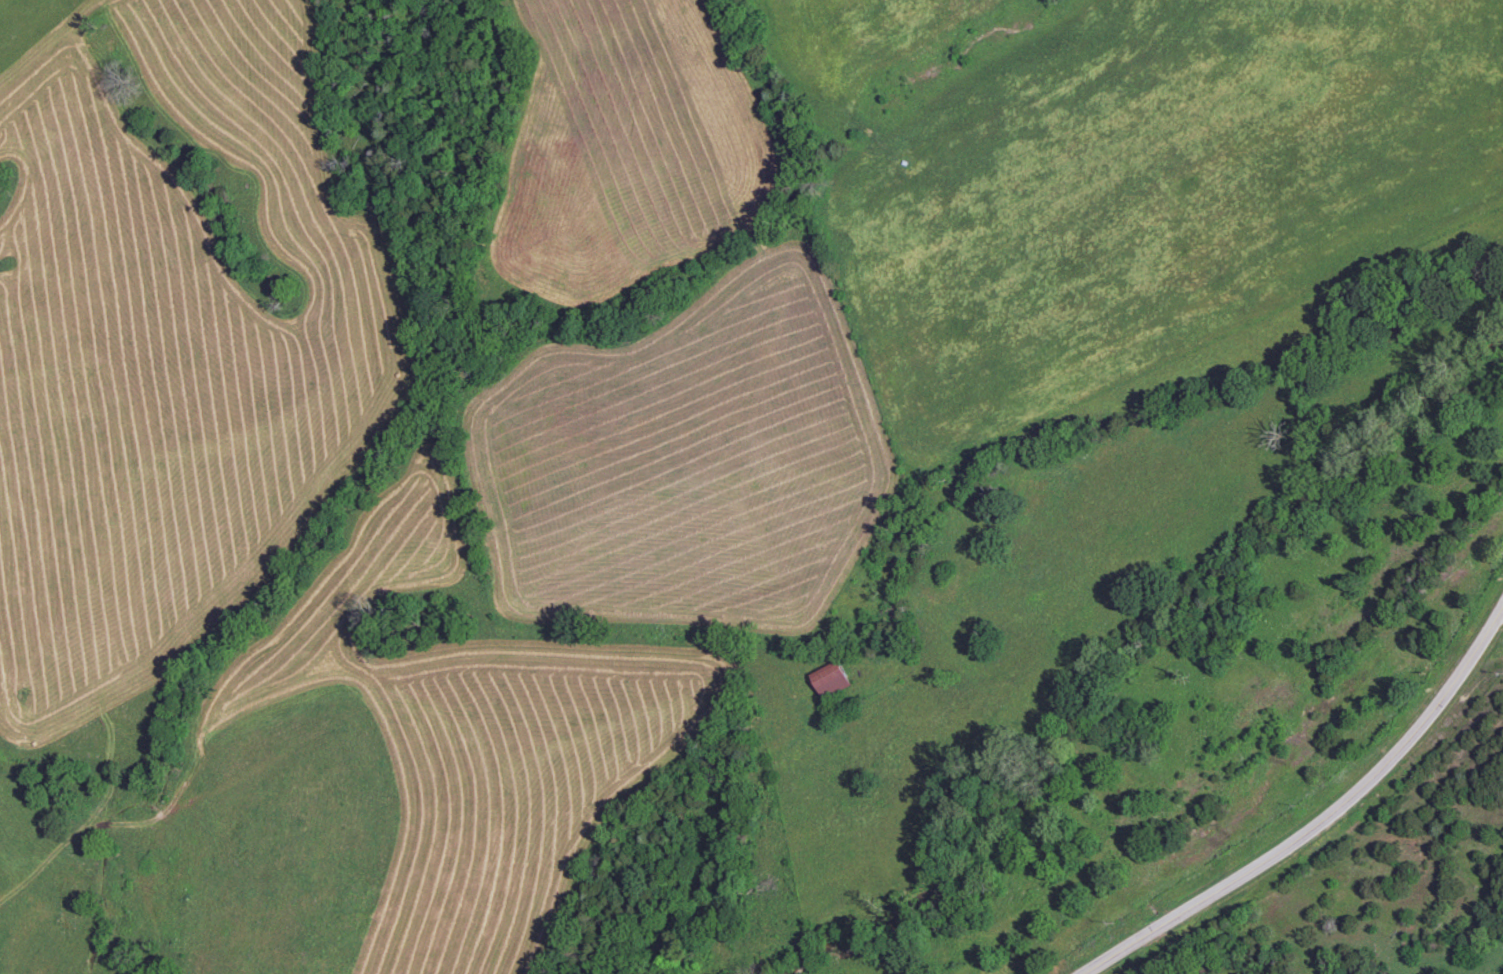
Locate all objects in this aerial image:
building: (830, 678)
road: (1326, 820)

